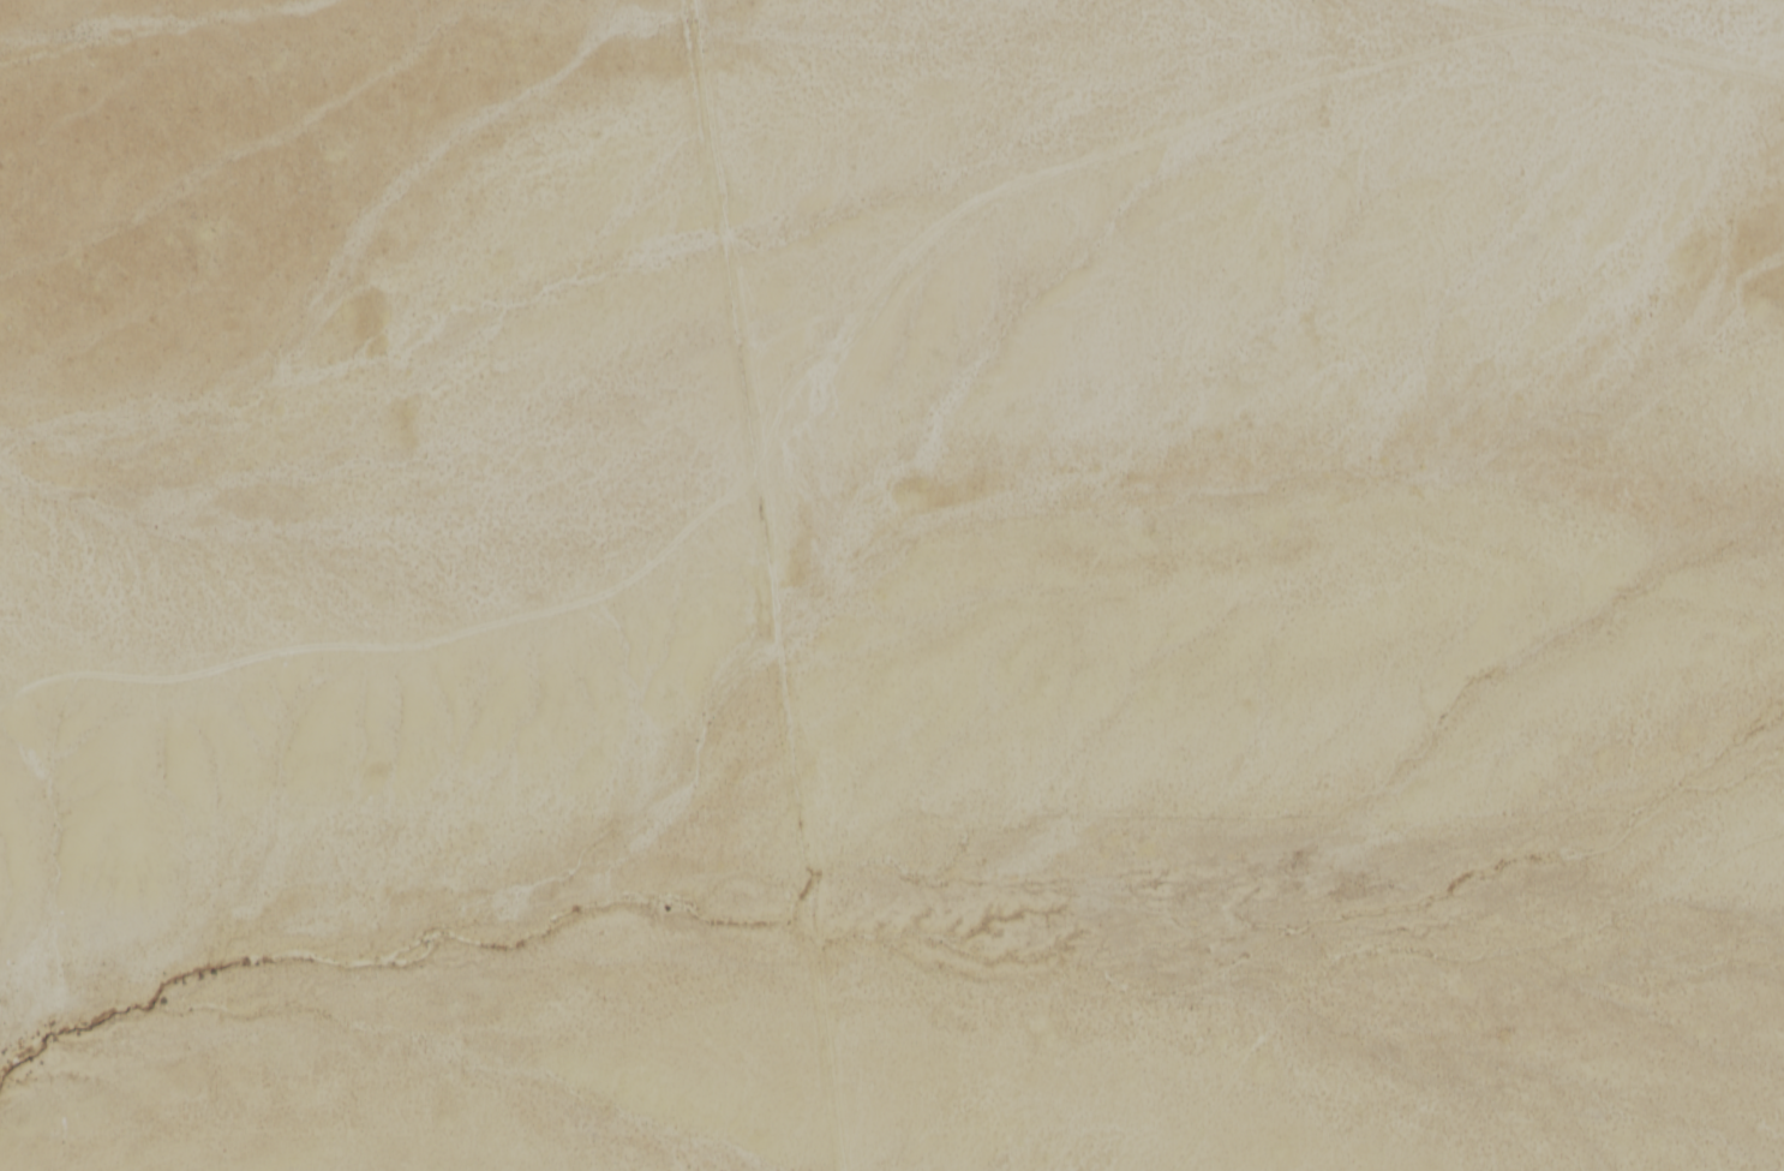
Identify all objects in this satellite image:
road: (1579, 55)
road: (891, 846)

